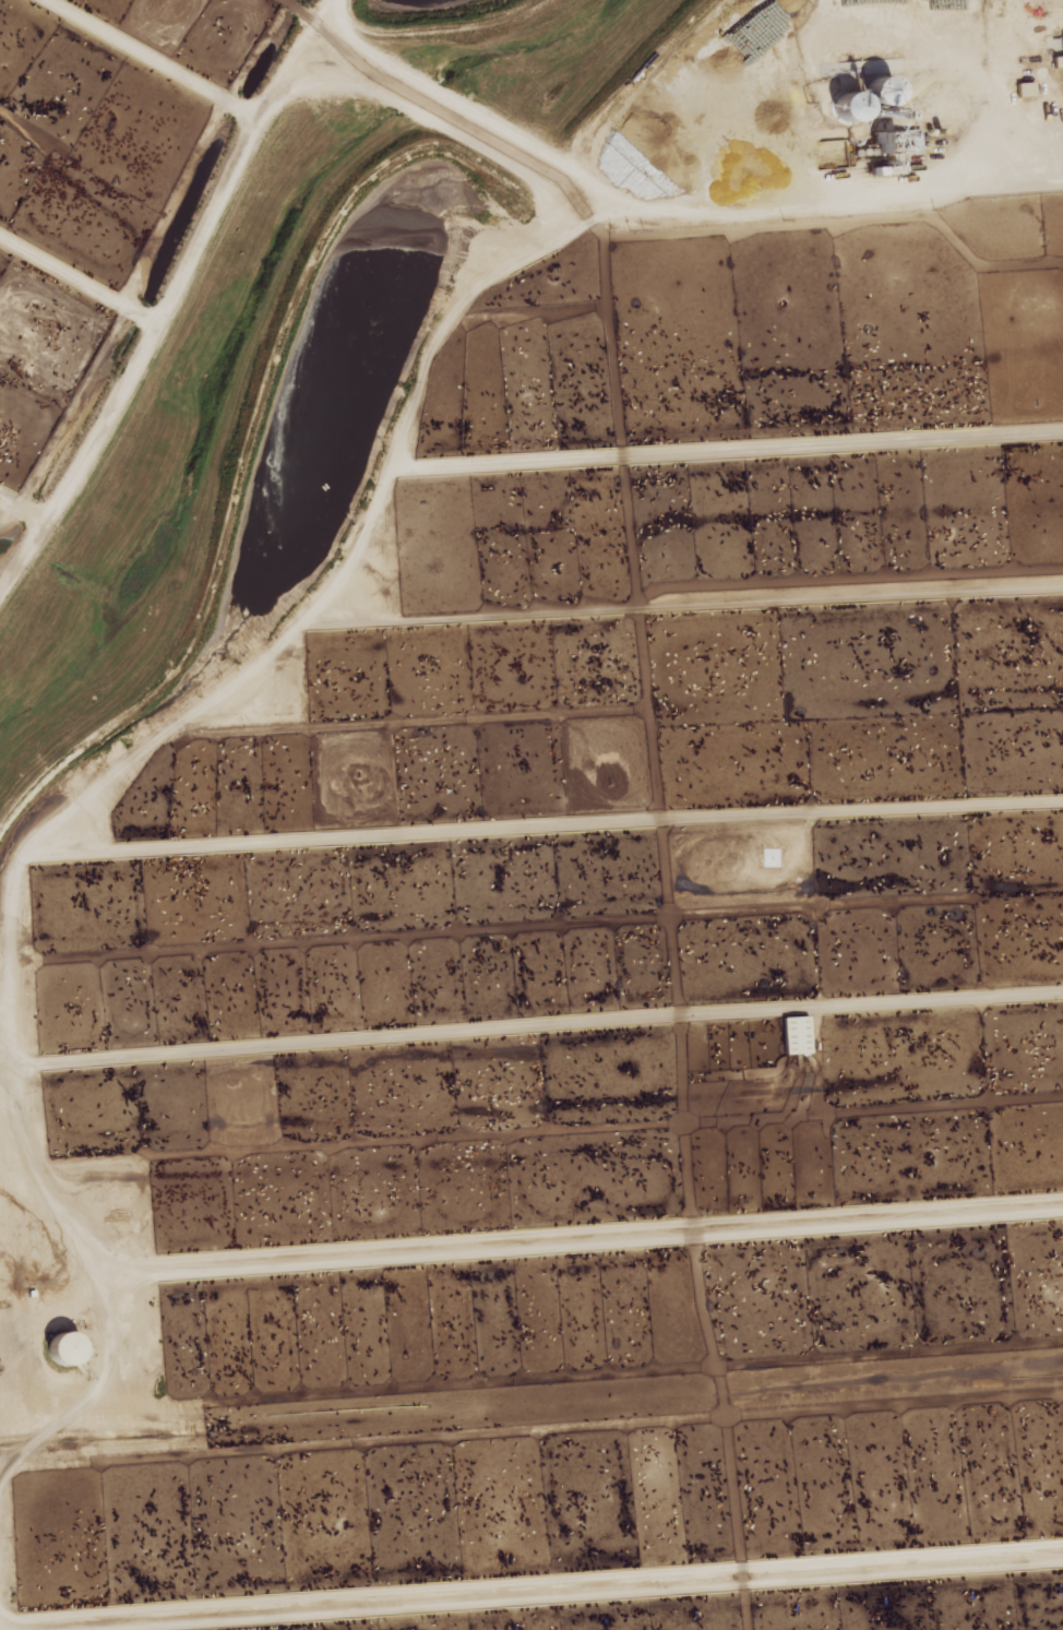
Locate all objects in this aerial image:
building: (1058, 61)
building: (1026, 88)
building: (853, 106)
road: (659, 205)
road: (104, 774)
building: (797, 1034)

